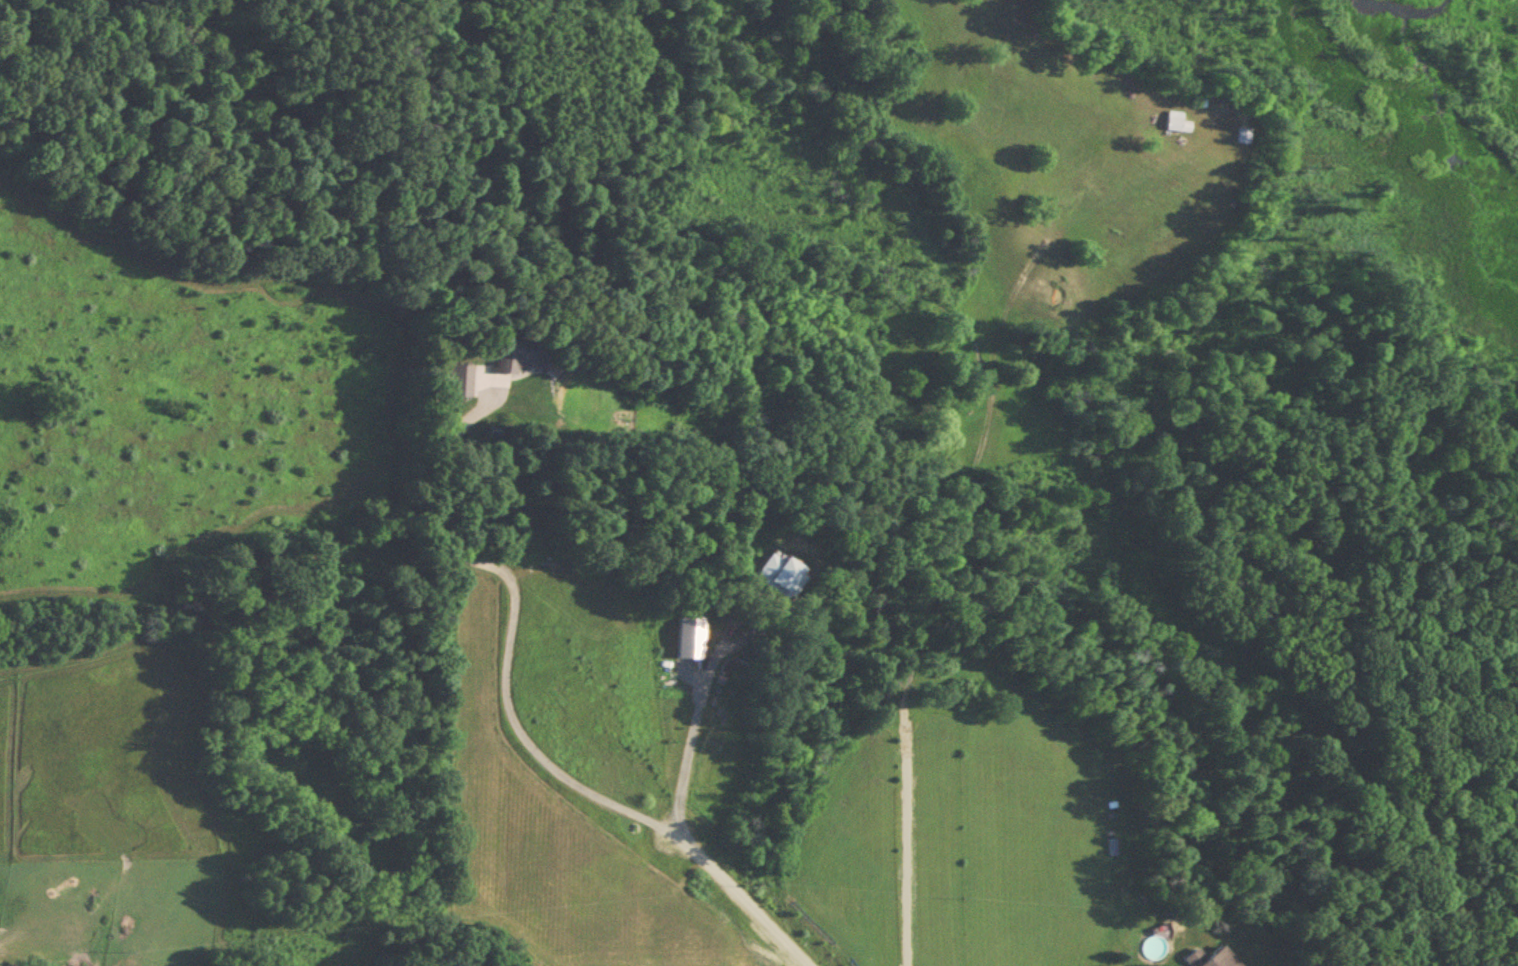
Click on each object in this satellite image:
building: (1174, 122)
building: (515, 355)
building: (453, 380)
road: (509, 629)
road: (696, 719)
building: (1110, 847)
road: (737, 899)
building: (1208, 958)

